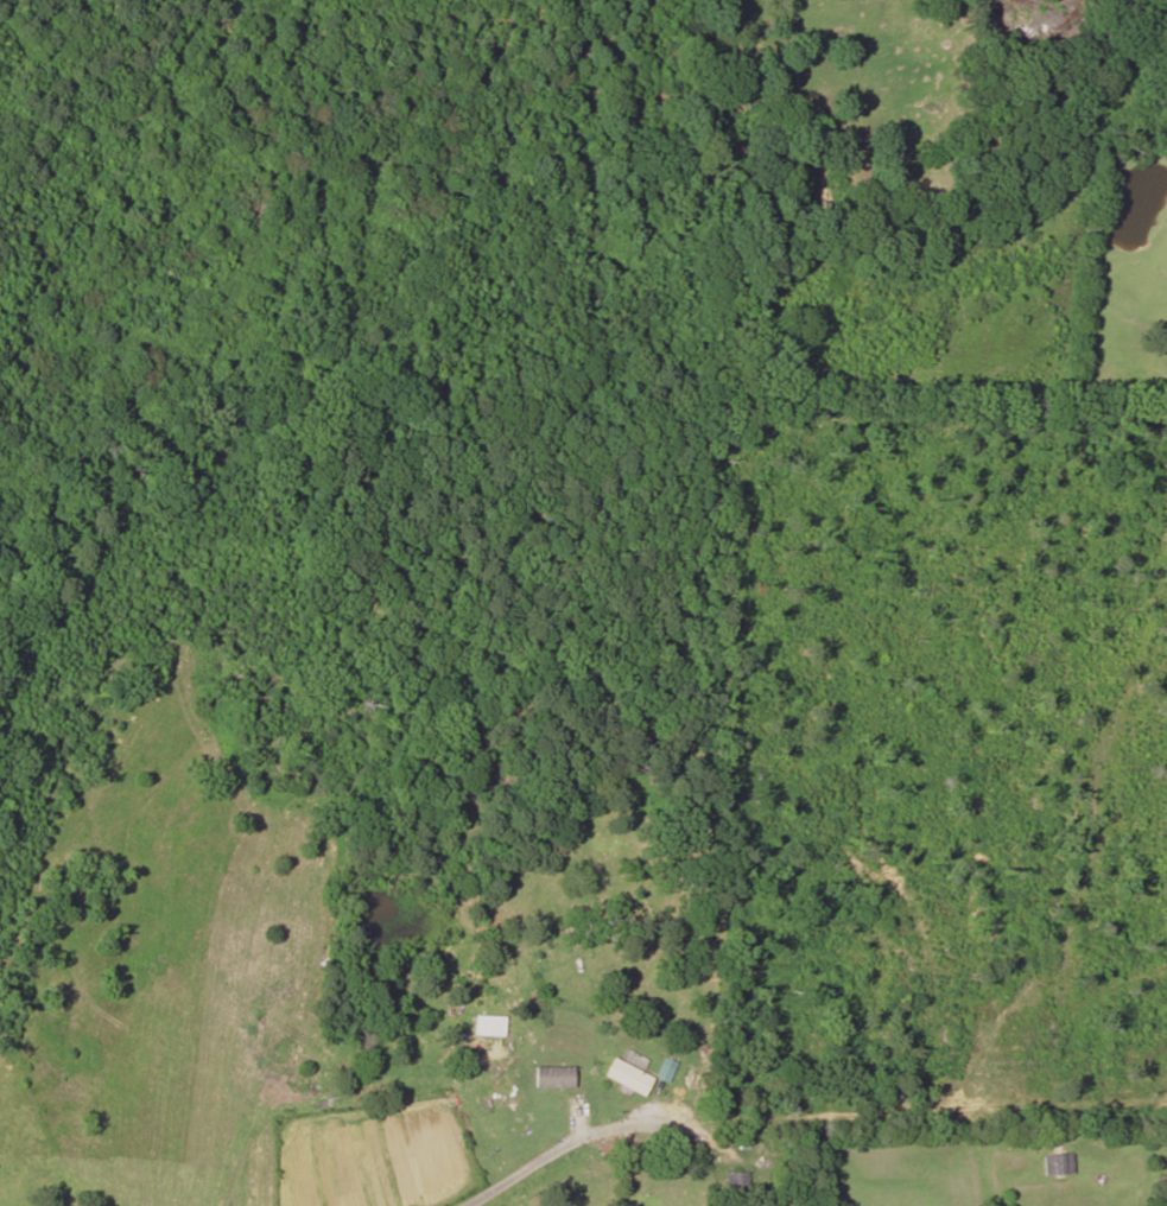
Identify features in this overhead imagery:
building: (627, 1075)
building: (566, 1090)
road: (548, 1155)
building: (1057, 1163)
building: (735, 1186)

